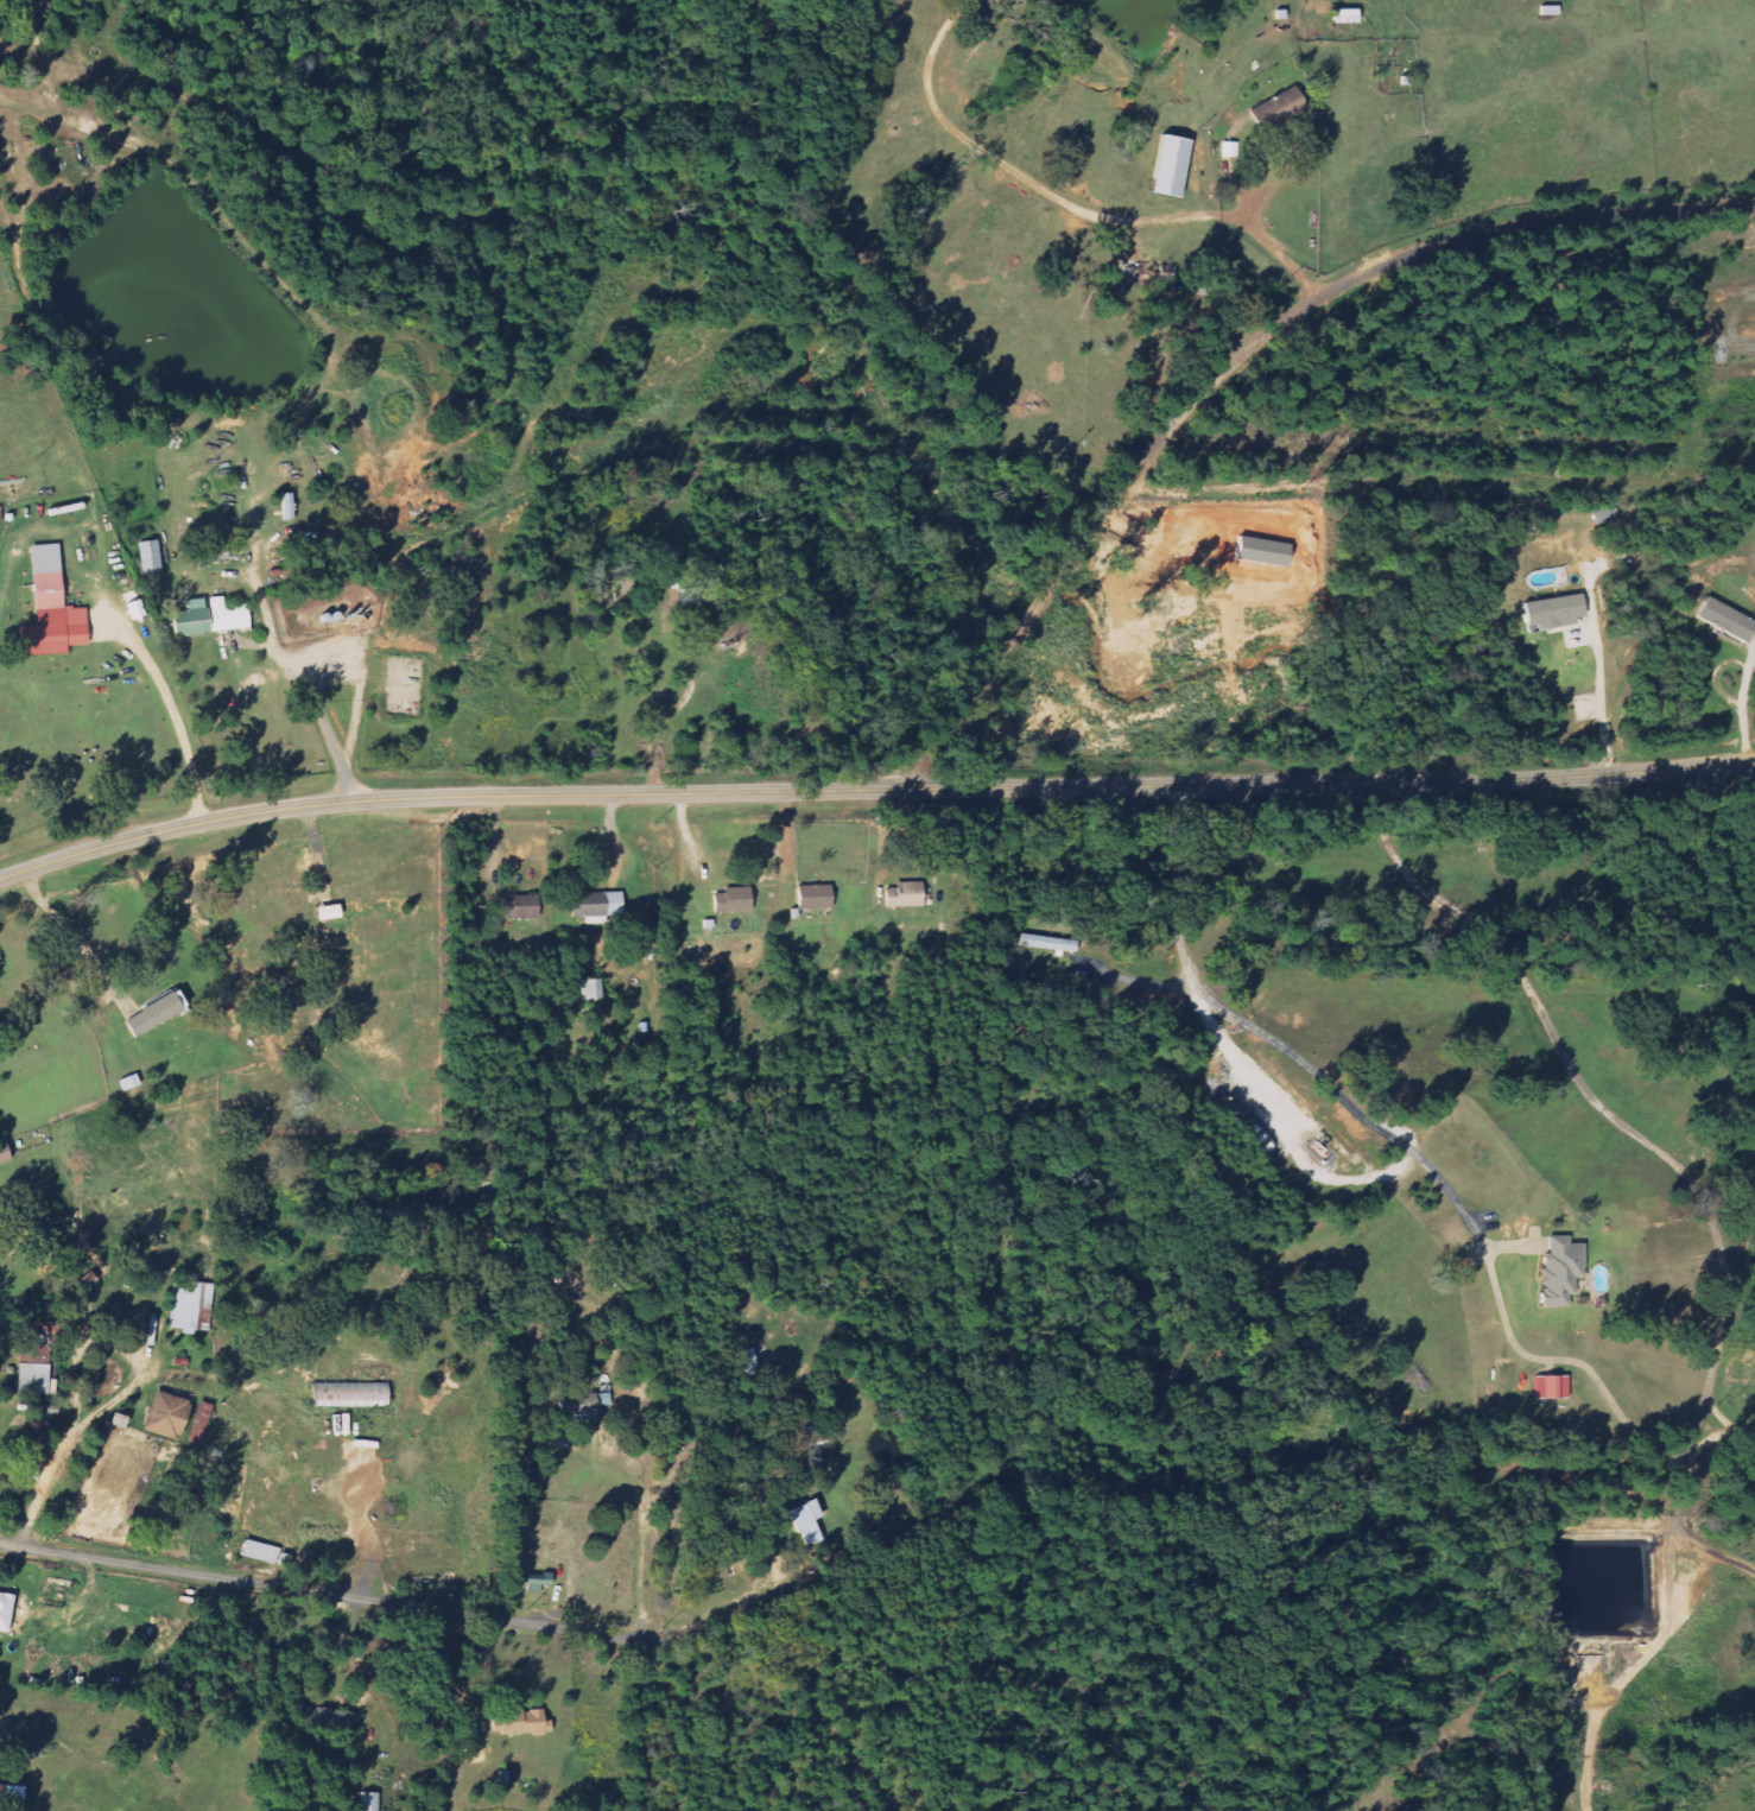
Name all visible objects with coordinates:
building: (1343, 15)
building: (1276, 112)
building: (1228, 150)
building: (1166, 166)
road: (1235, 359)
building: (0, 515)
building: (147, 557)
building: (49, 609)
building: (1552, 612)
building: (207, 618)
building: (1724, 620)
road: (873, 791)
building: (901, 895)
building: (810, 898)
building: (730, 900)
building: (595, 905)
building: (518, 907)
building: (1045, 943)
building: (596, 989)
building: (159, 1014)
building: (7, 1153)
building: (1, 1210)
building: (1559, 1271)
building: (194, 1306)
building: (43, 1344)
building: (747, 1360)
building: (38, 1379)
building: (1550, 1386)
building: (353, 1395)
building: (179, 1417)
building: (806, 1521)
building: (264, 1553)
building: (536, 1582)
road: (325, 1594)
building: (8, 1621)
building: (520, 1722)
building: (11, 1792)
building: (366, 1801)

